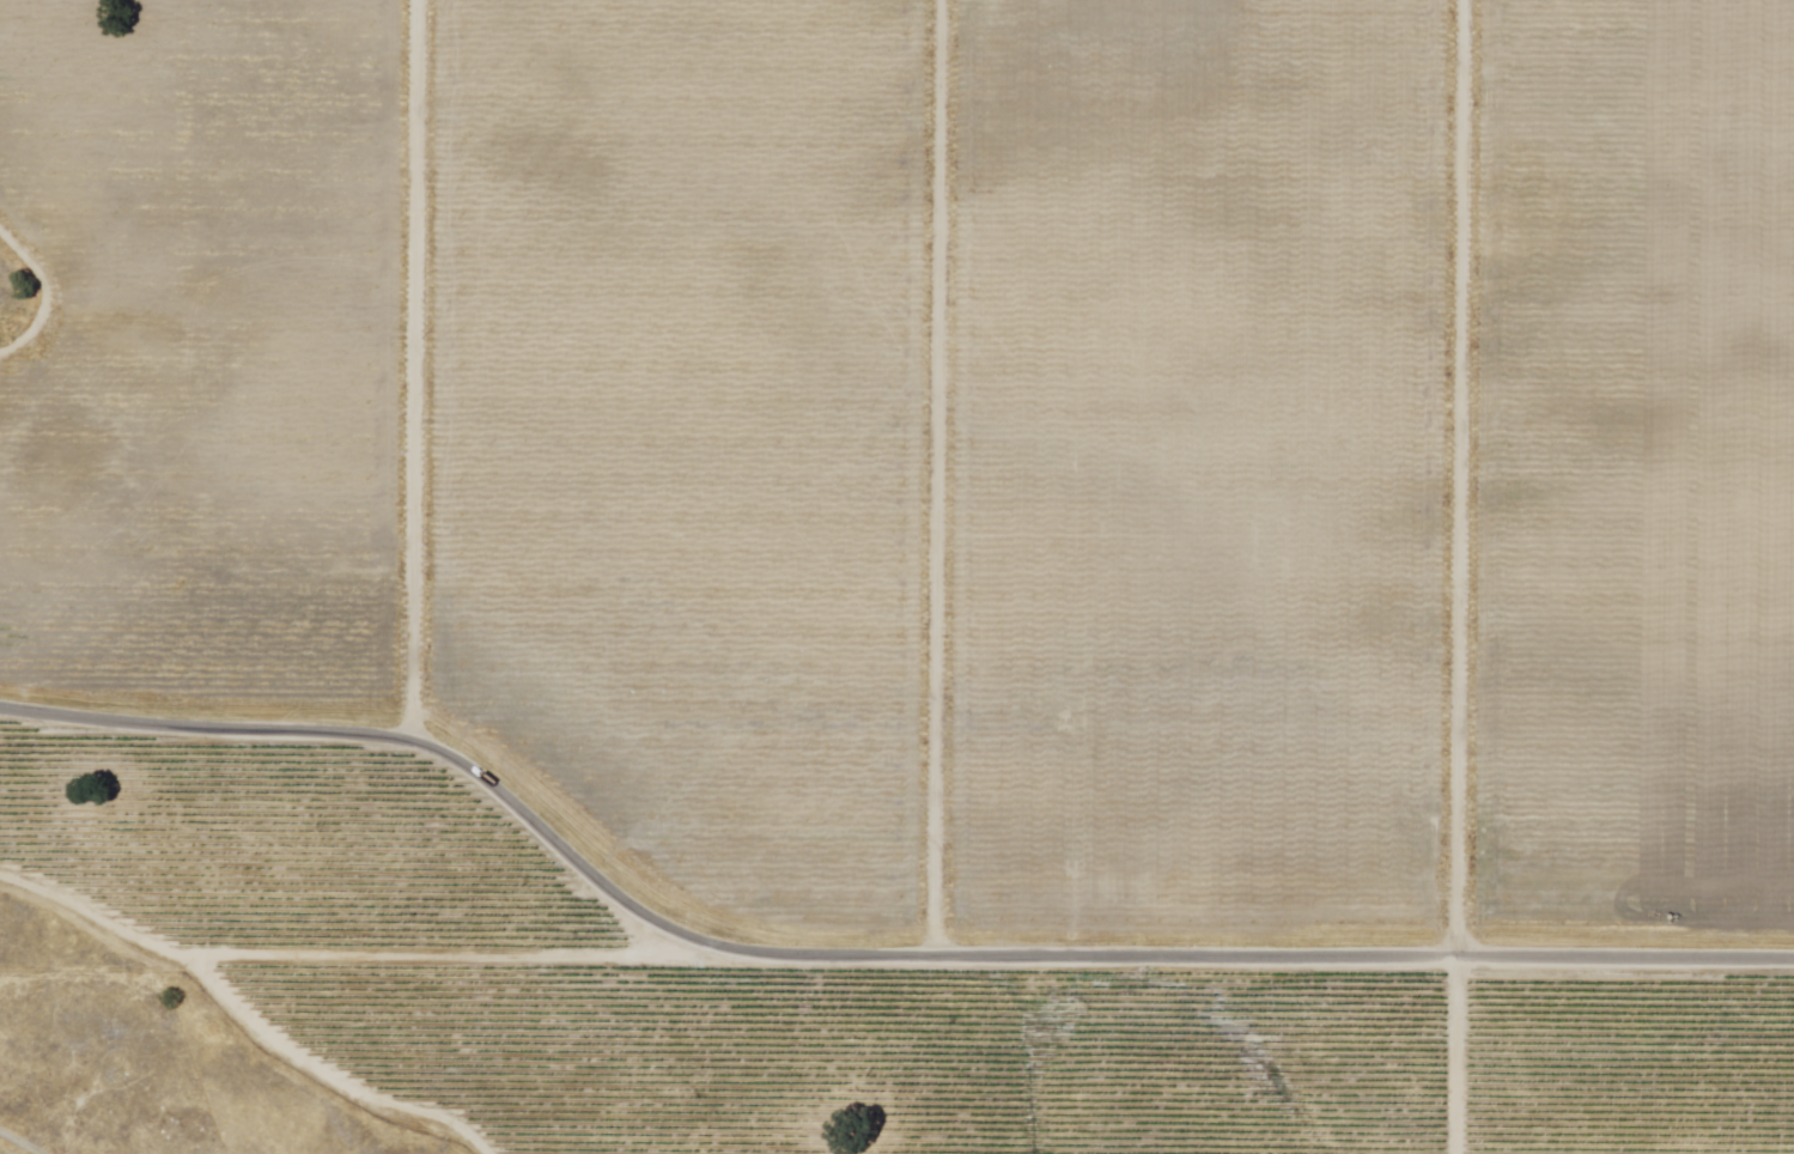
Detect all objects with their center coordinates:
road: (48, 297)
road: (416, 368)
road: (938, 478)
road: (1458, 576)
road: (445, 955)
road: (858, 955)
road: (242, 1019)
road: (17, 1142)

